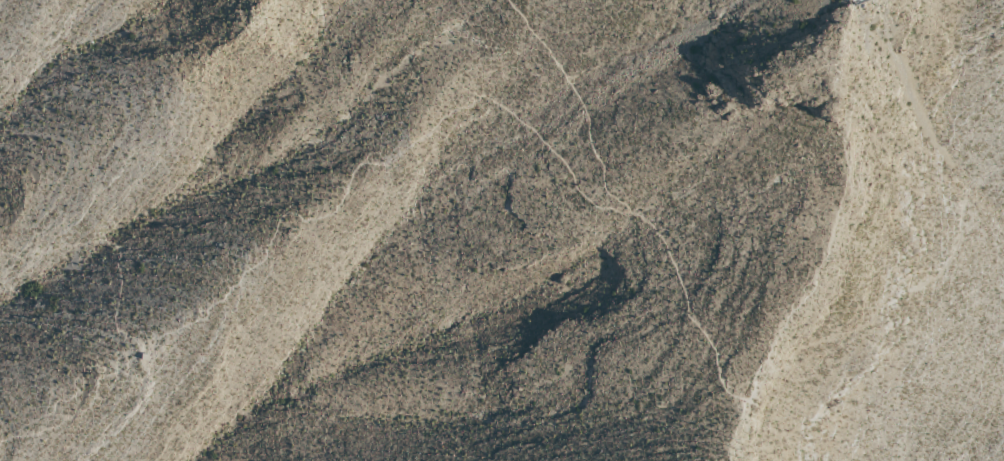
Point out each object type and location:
road: (281, 212)
building: (146, 357)
road: (715, 378)
road: (85, 411)

